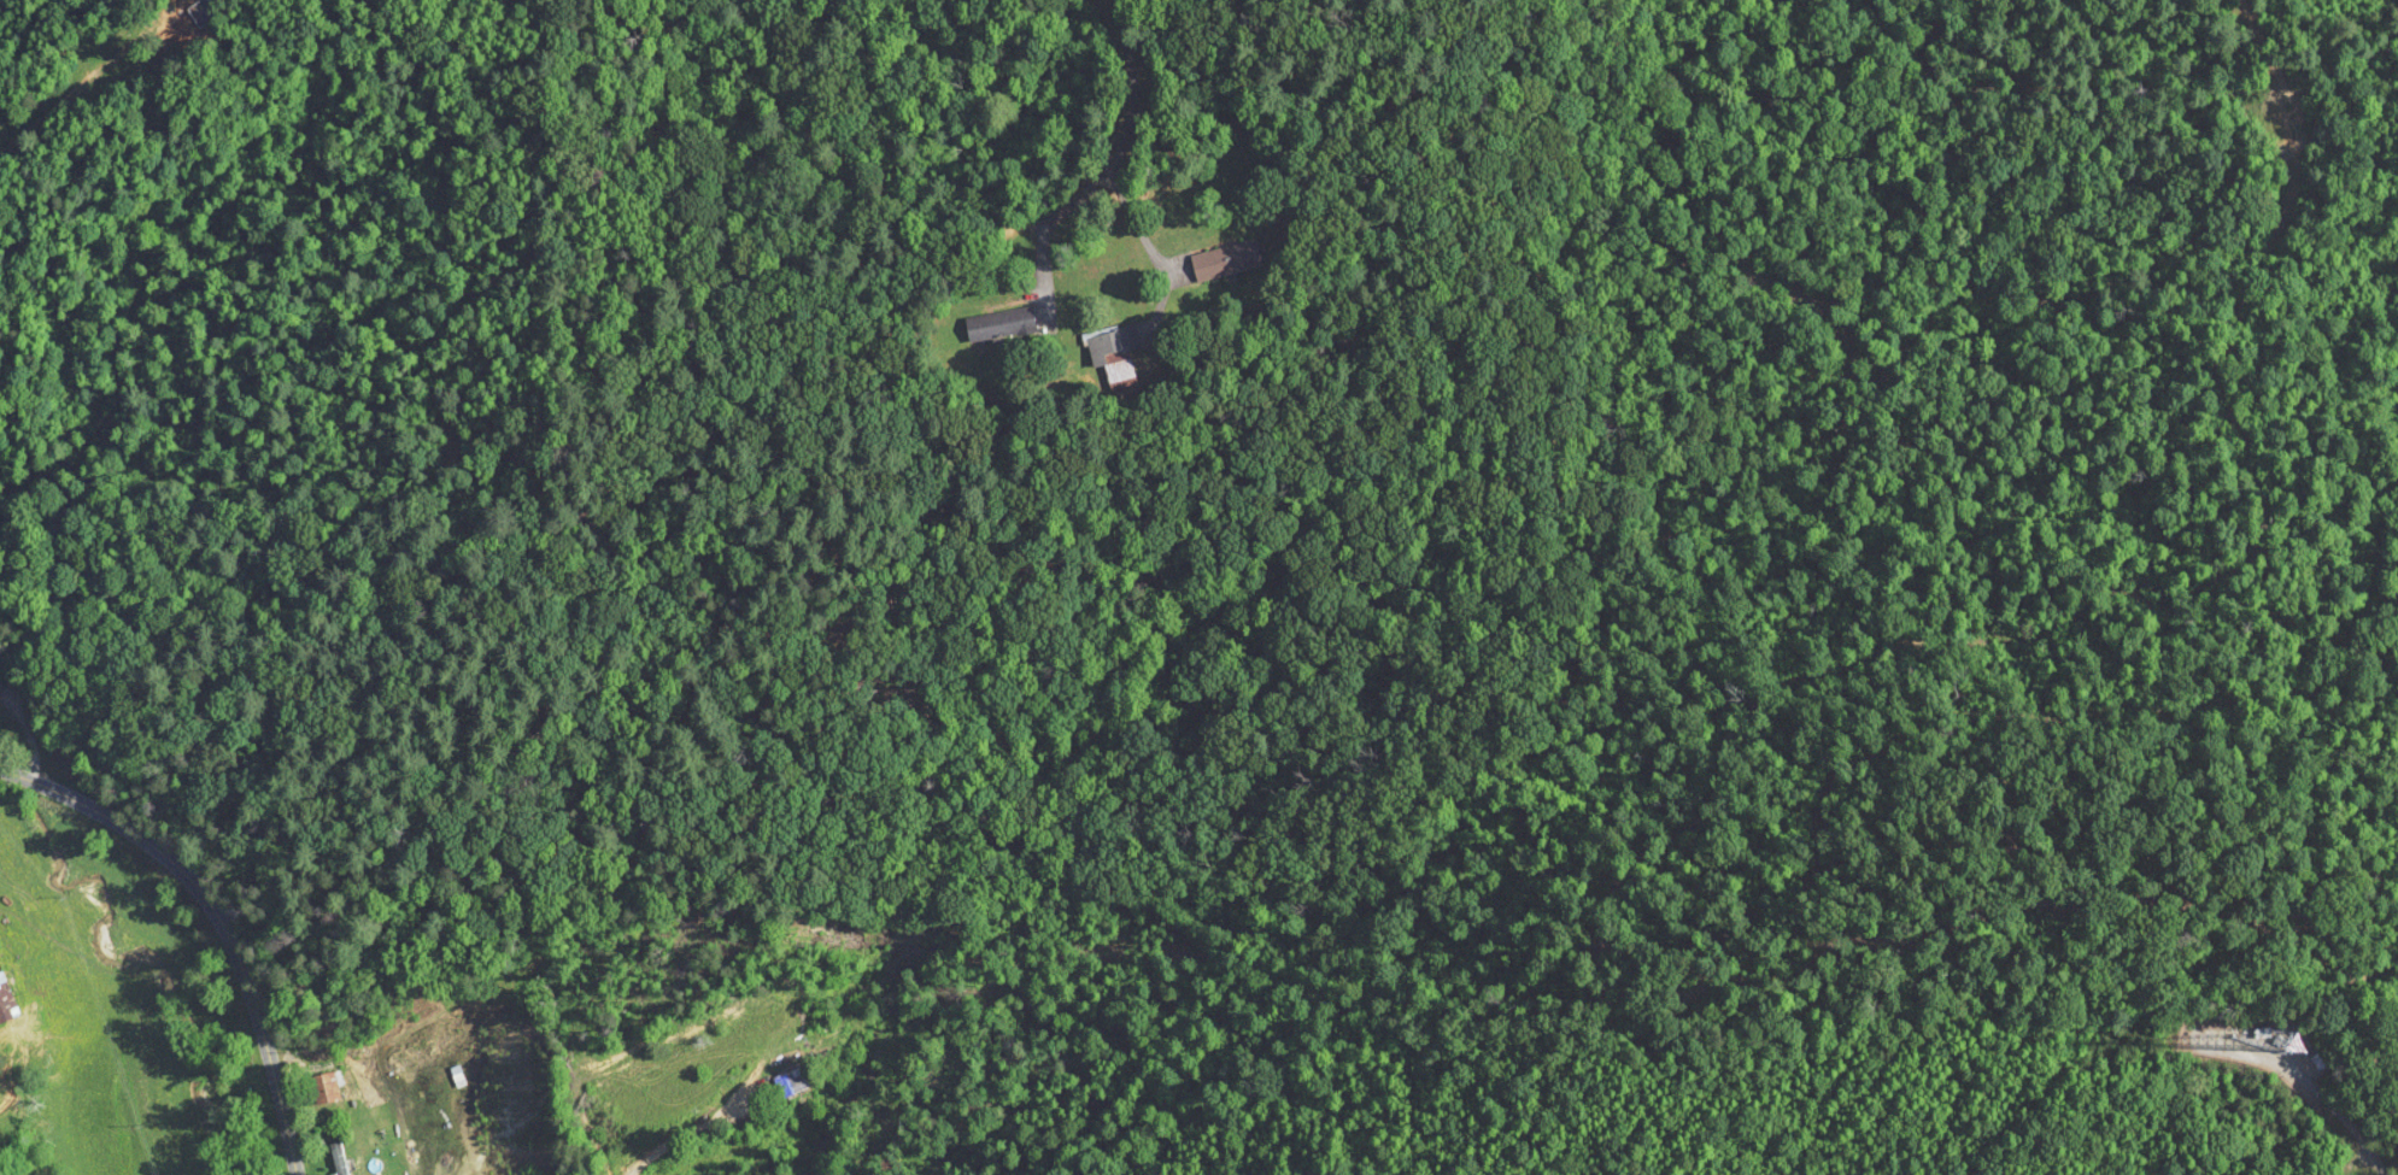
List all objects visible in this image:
road: (1124, 127)
building: (1225, 260)
building: (998, 323)
building: (1113, 351)
road: (217, 916)
building: (7, 999)
building: (796, 1080)
building: (328, 1086)
road: (678, 1136)
building: (339, 1158)

